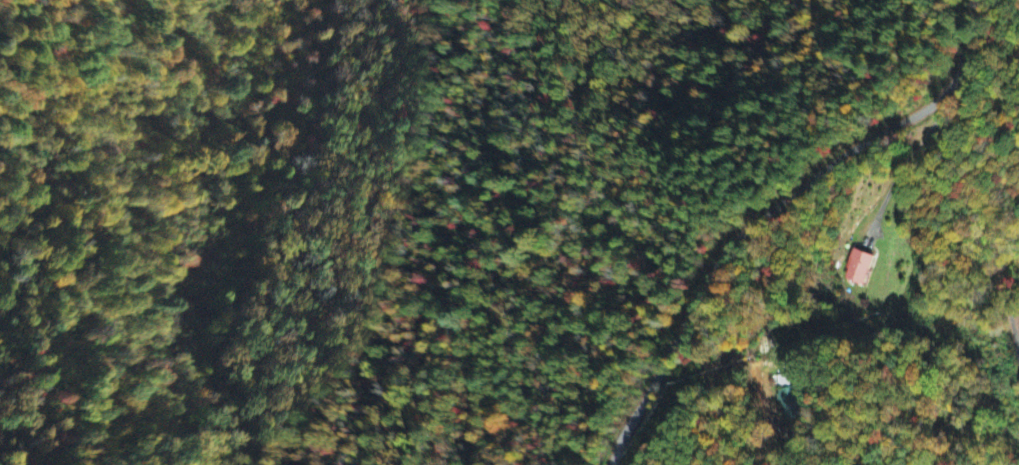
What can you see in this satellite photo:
road: (770, 208)
building: (855, 268)
road: (999, 285)
building: (788, 404)

